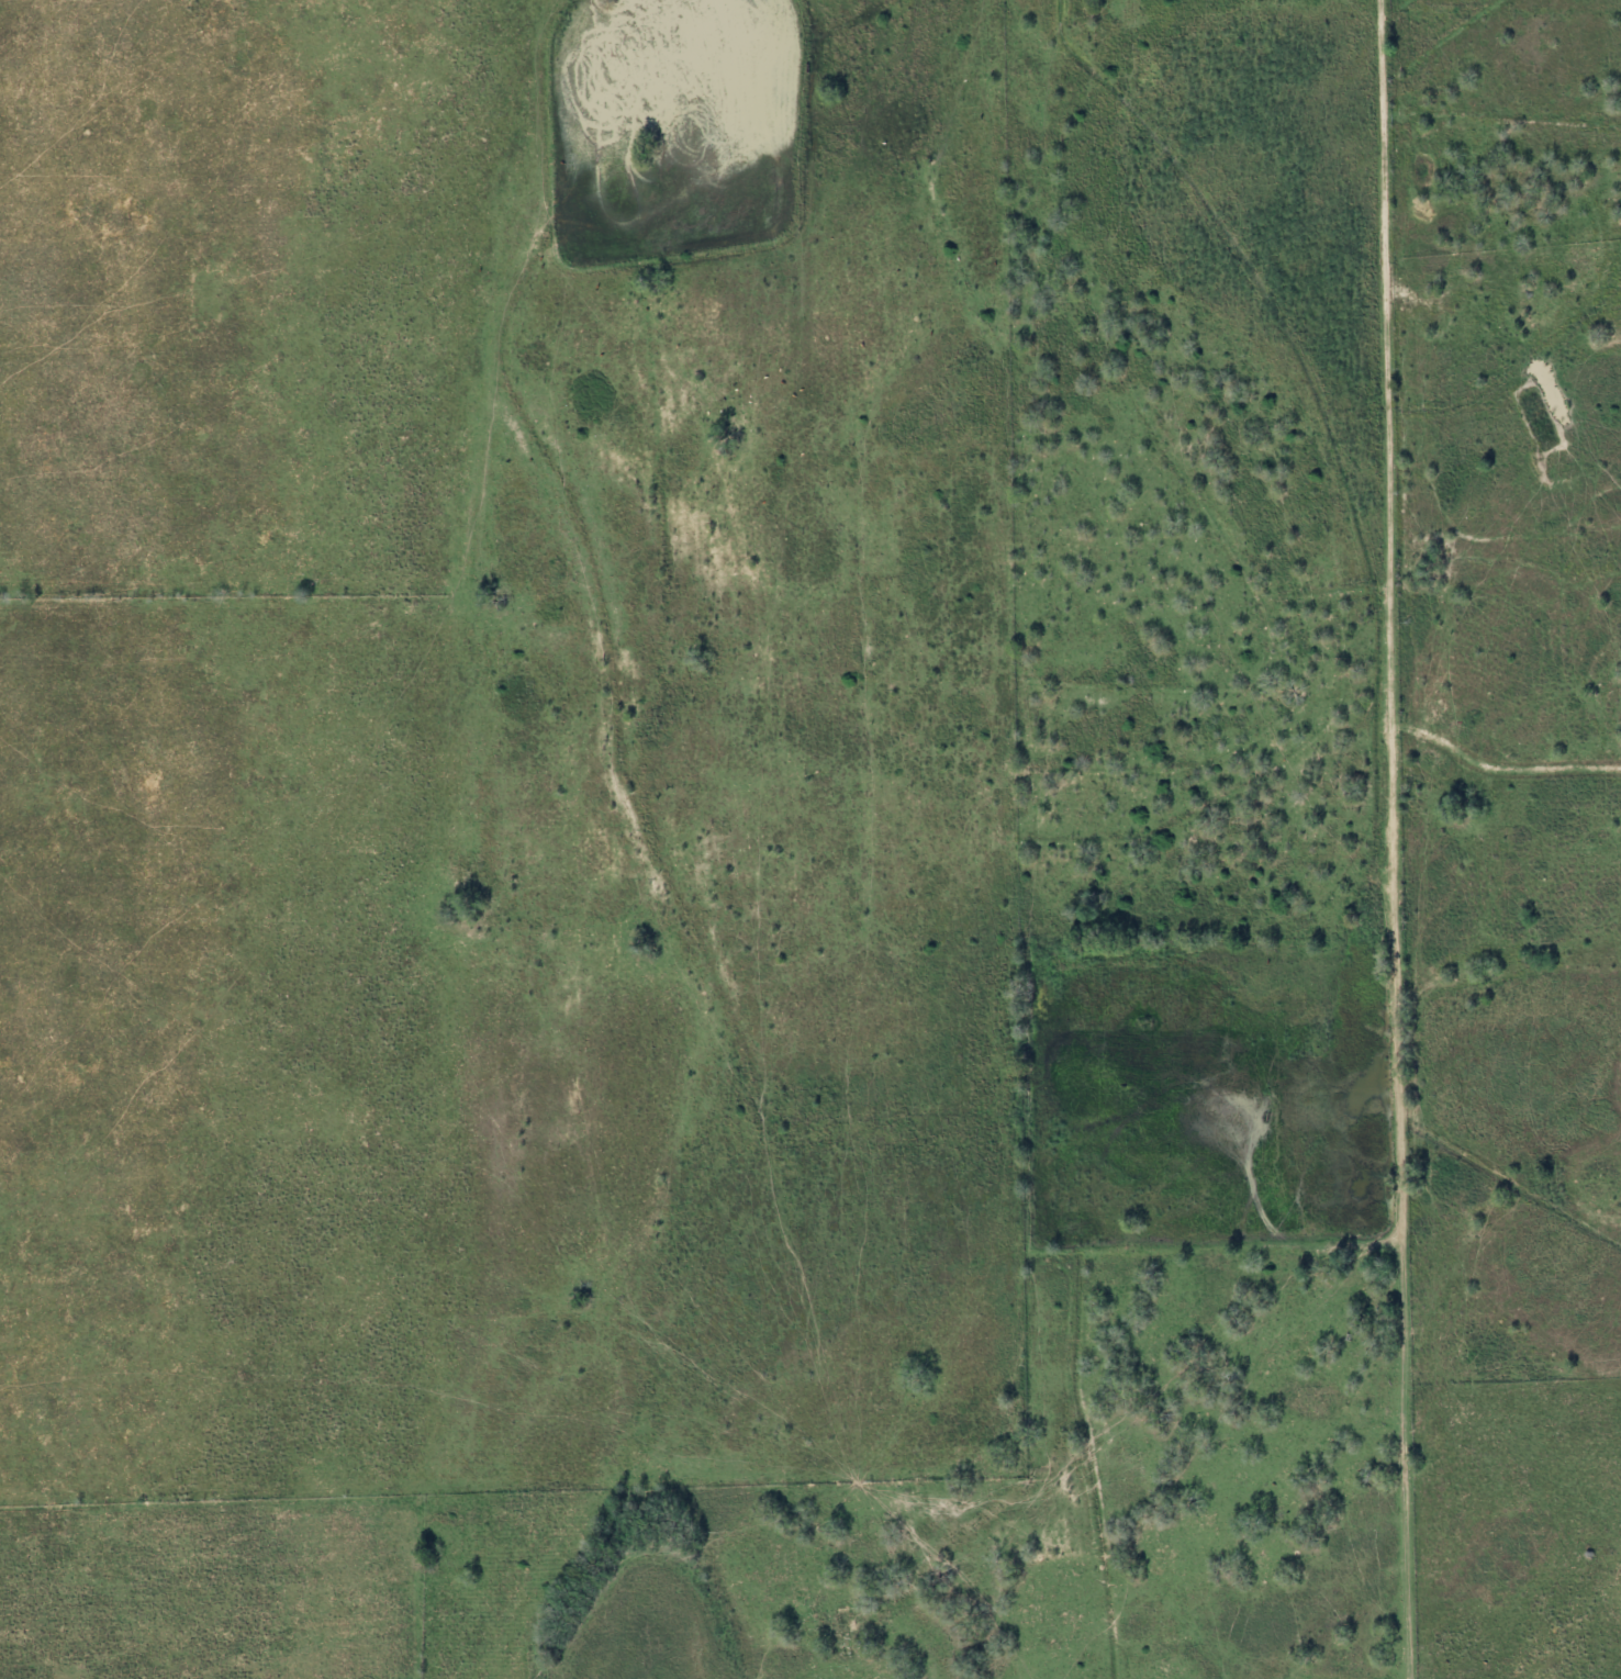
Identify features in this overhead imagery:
road: (1389, 839)

